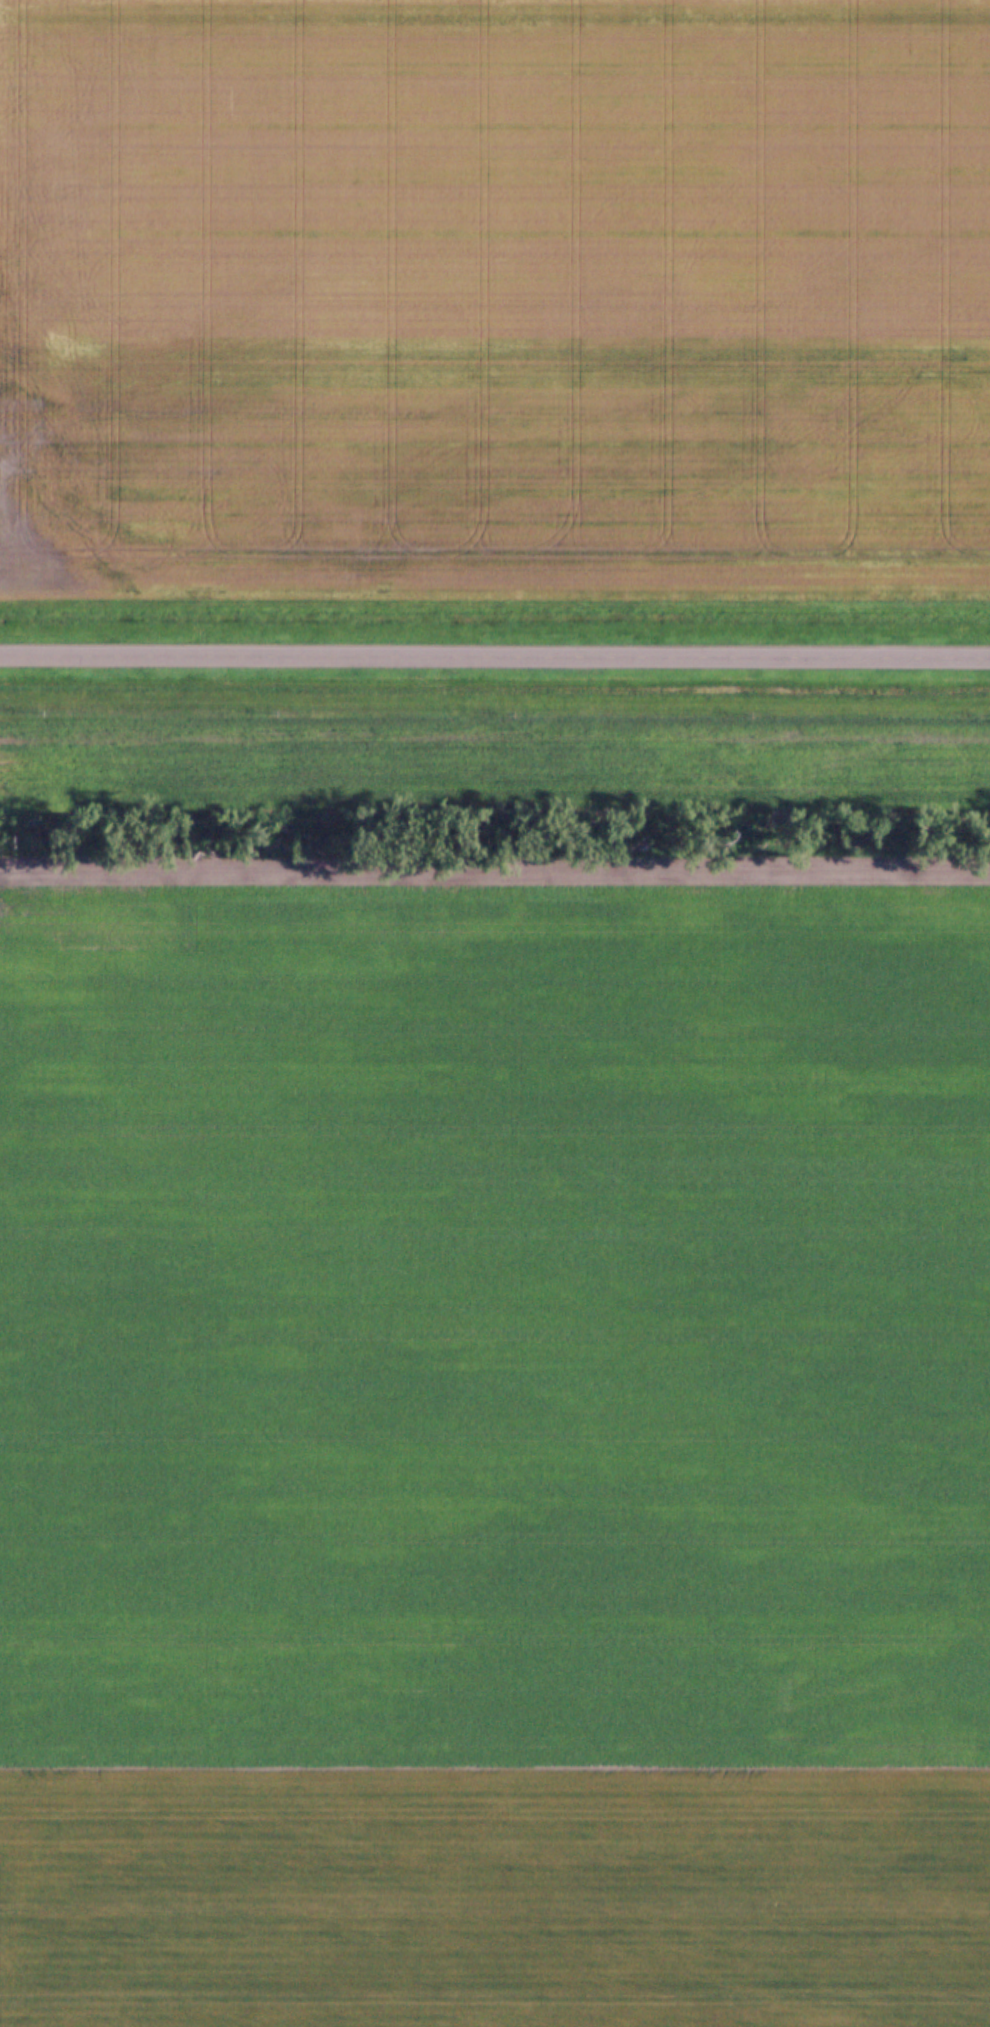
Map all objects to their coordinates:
road: (495, 657)

